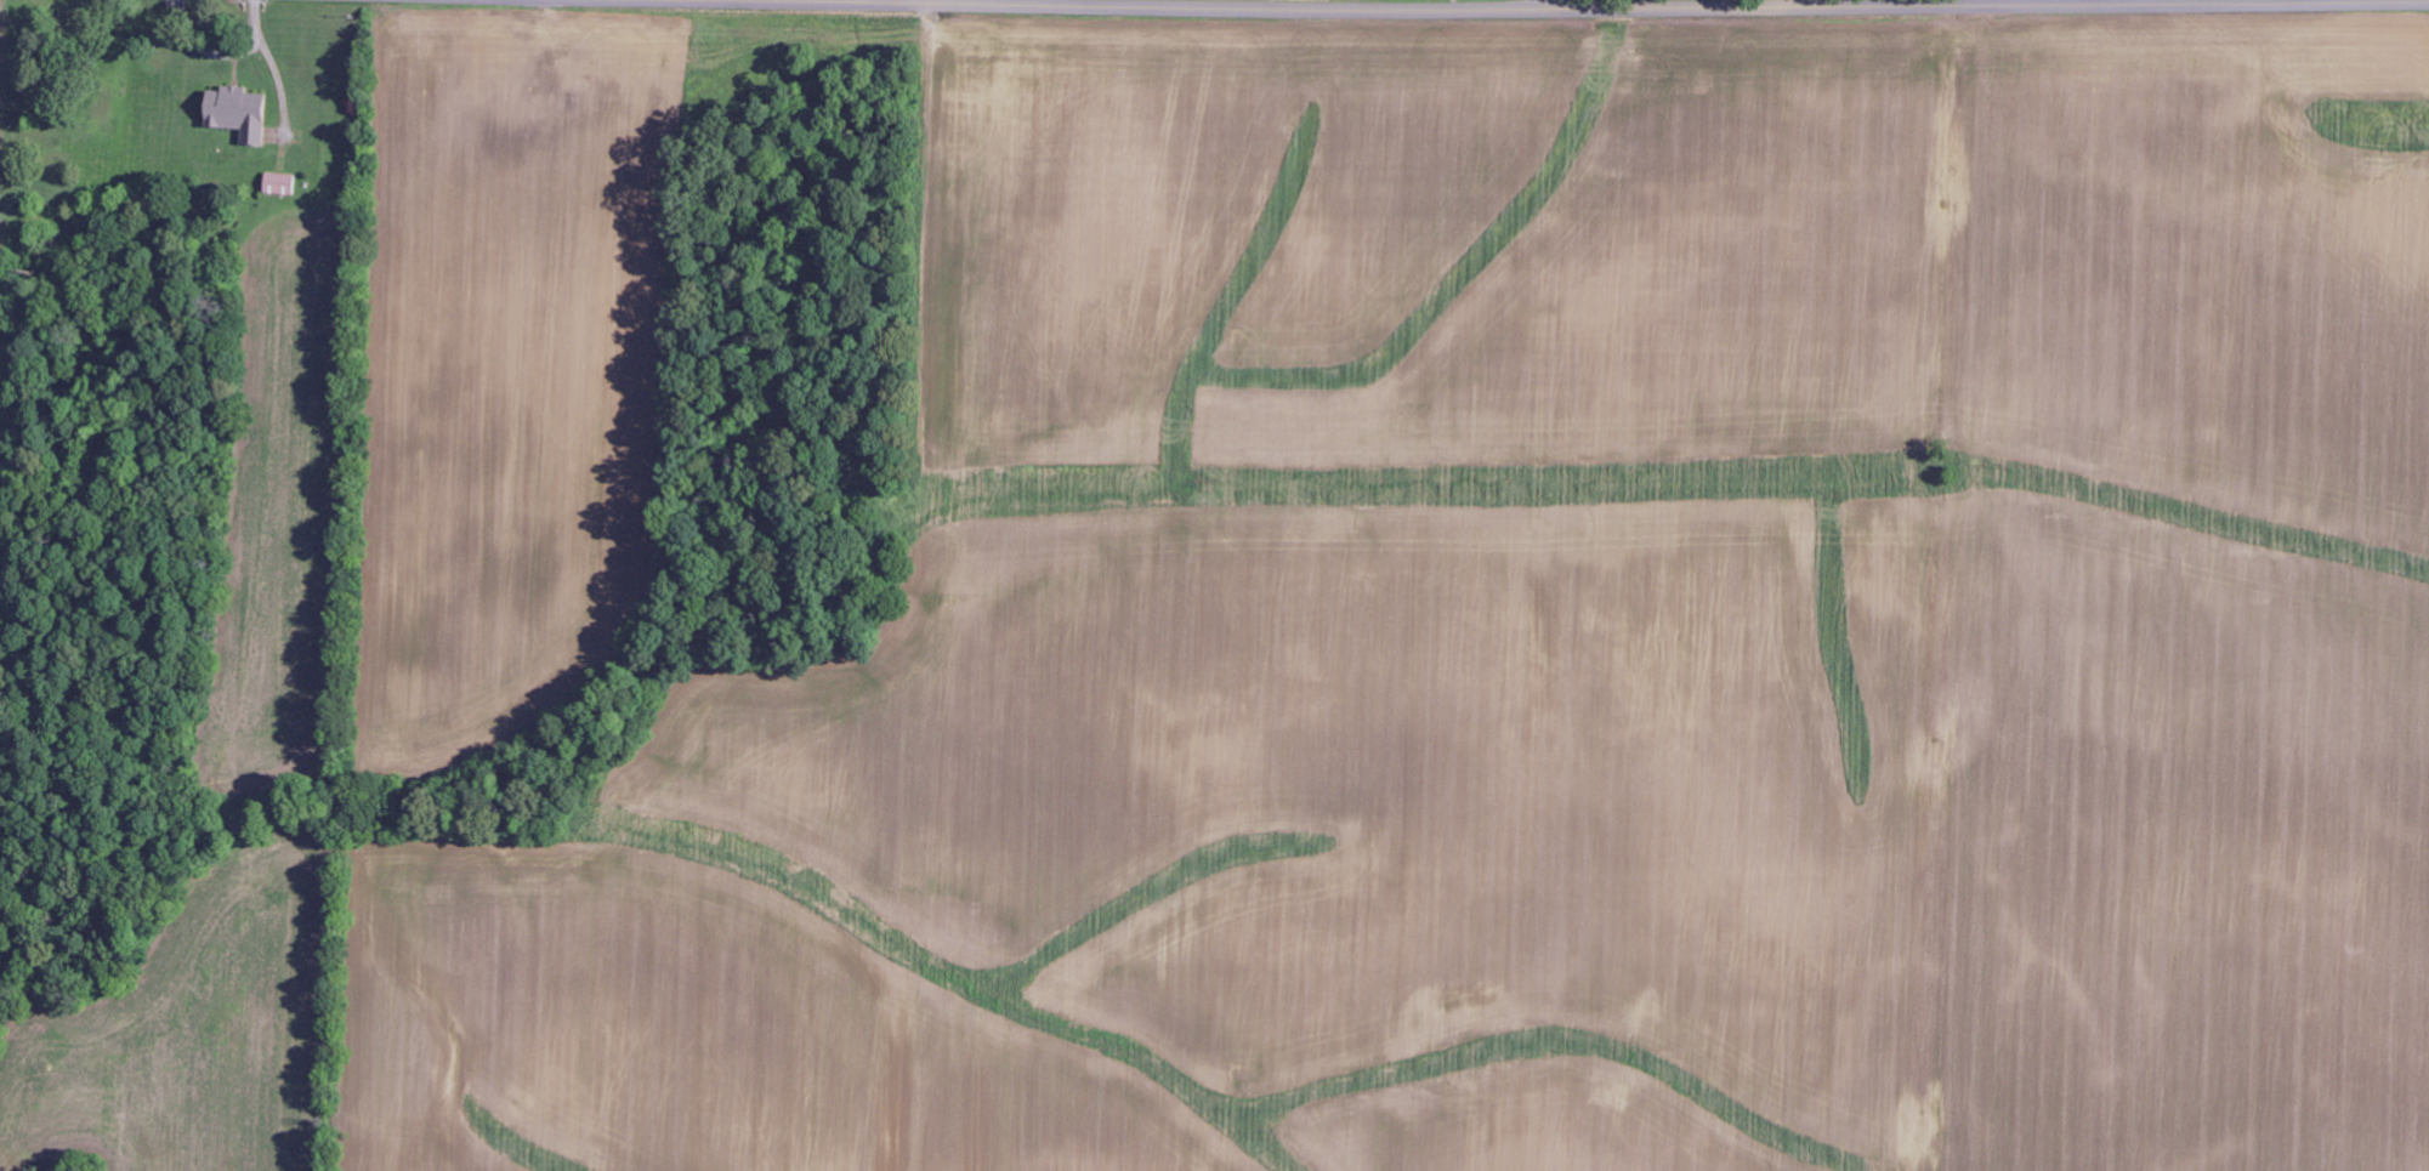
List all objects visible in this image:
road: (1556, 10)
building: (237, 112)
building: (280, 184)

